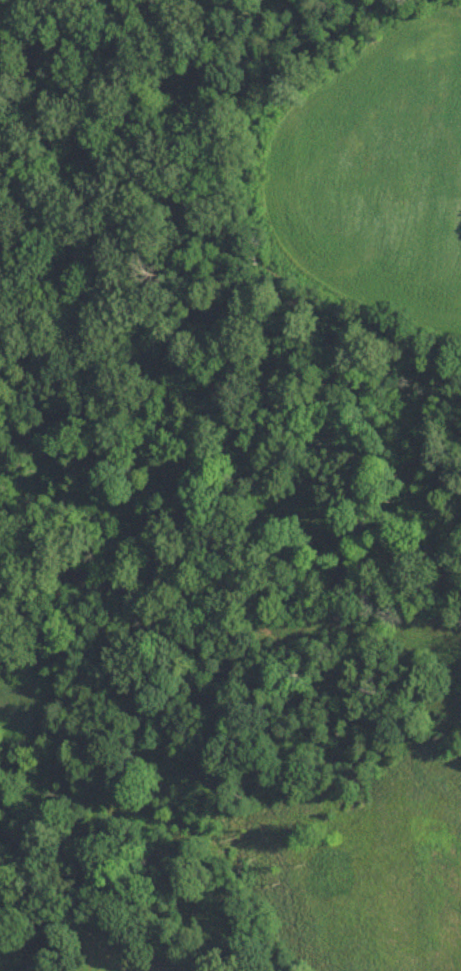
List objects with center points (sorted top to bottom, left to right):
river: (230, 587)

